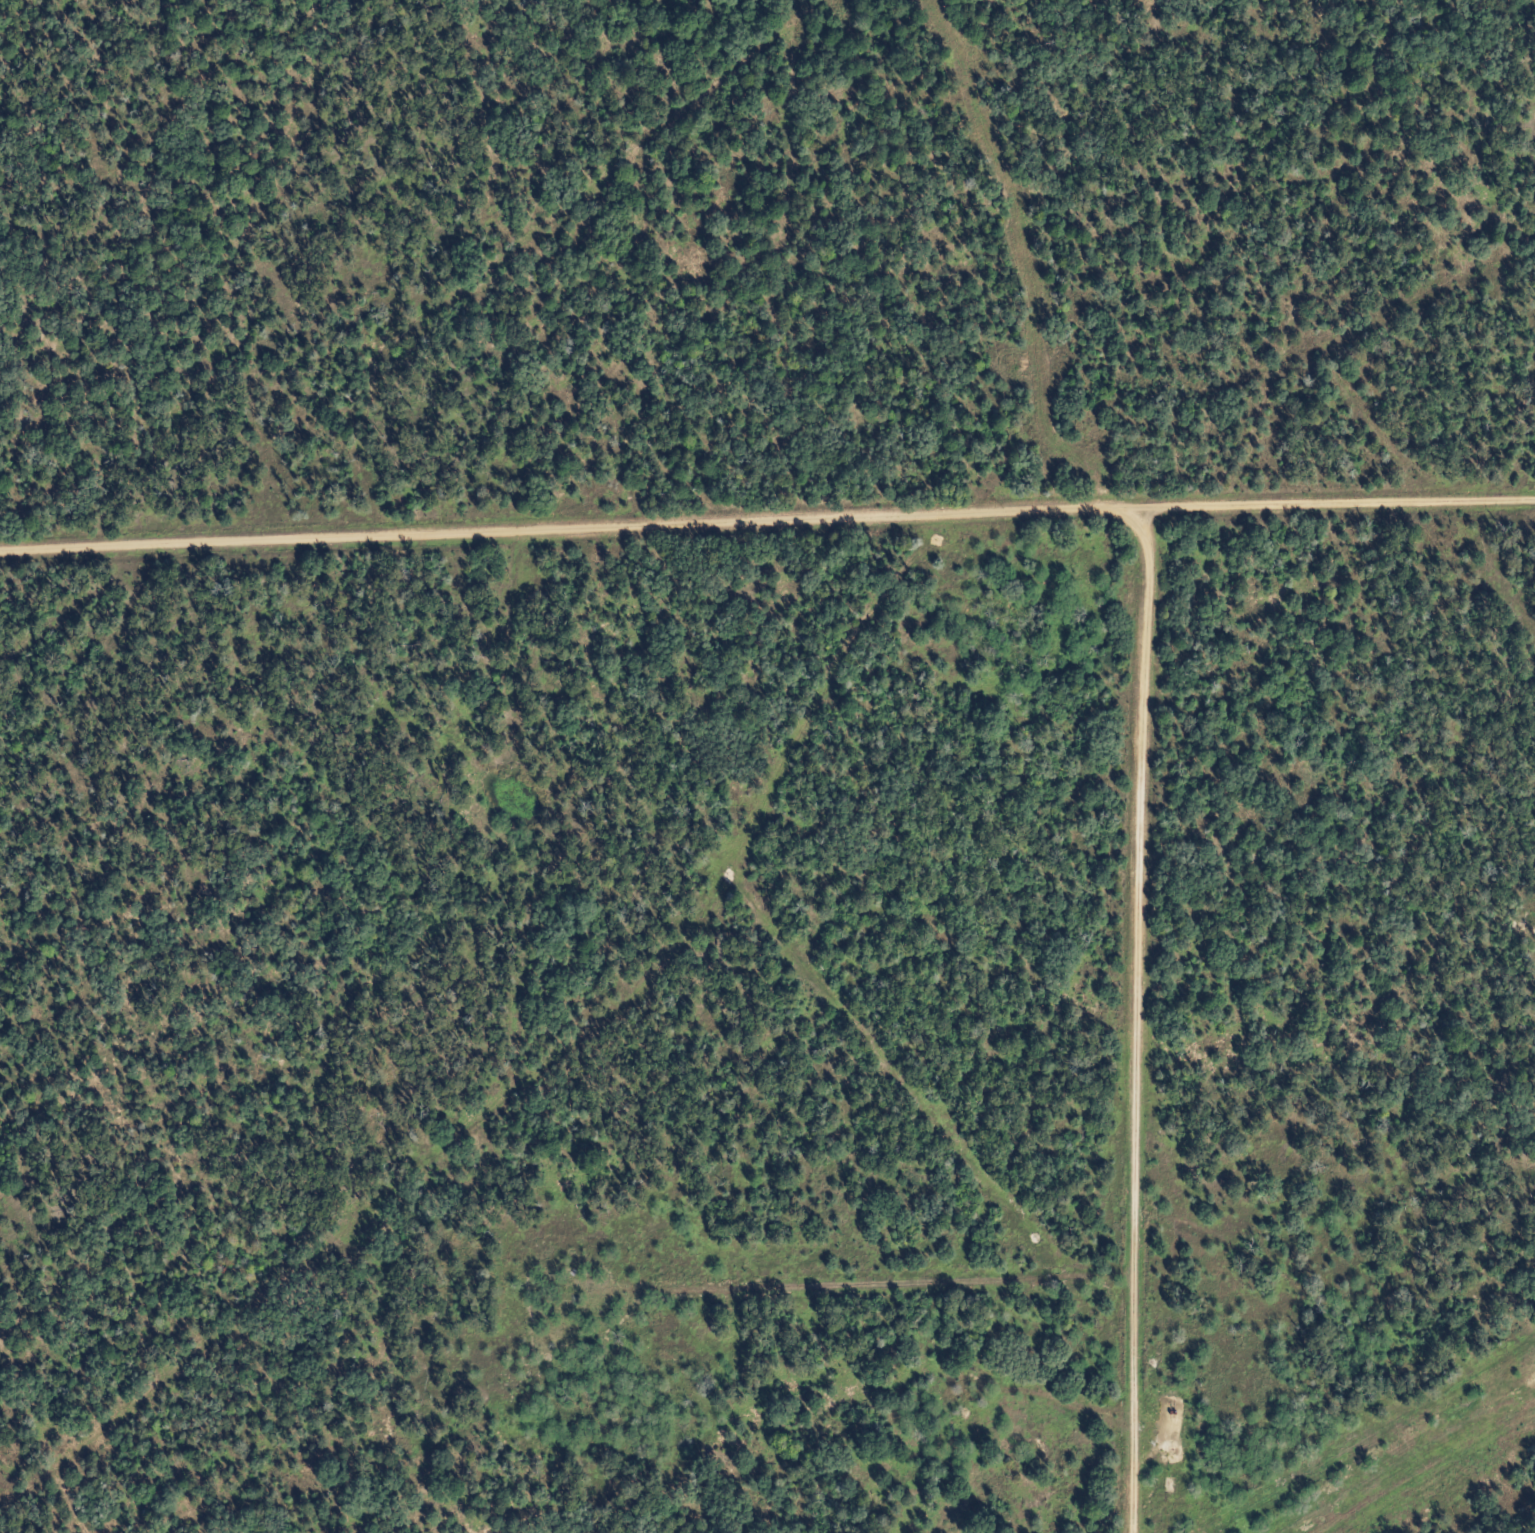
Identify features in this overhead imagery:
road: (767, 517)
road: (1141, 1021)

